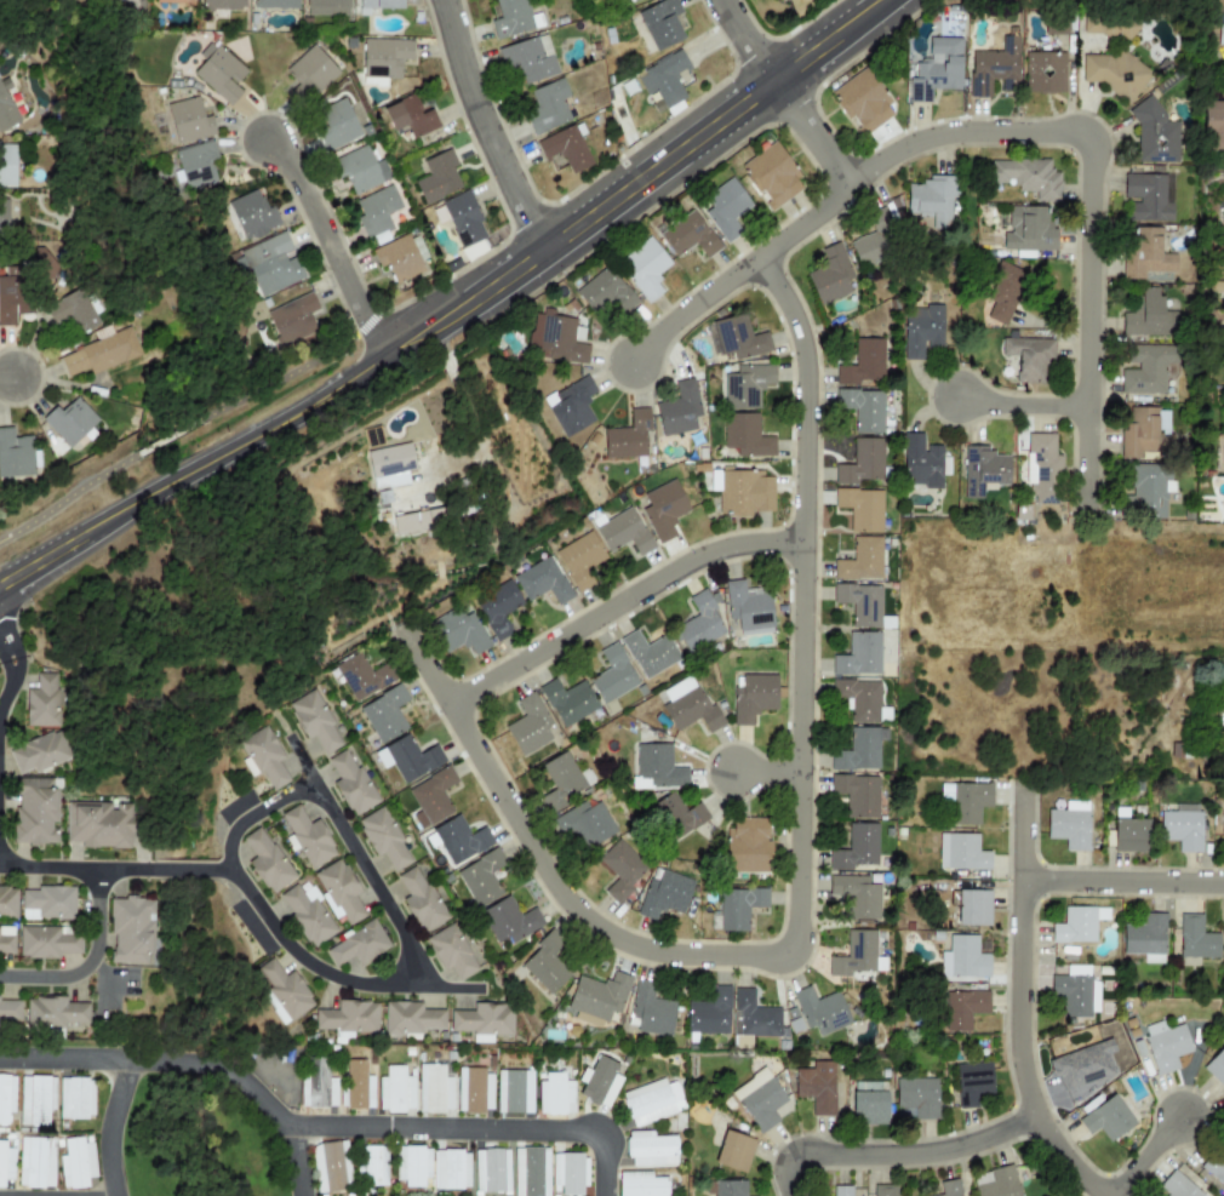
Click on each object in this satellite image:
building: (779, 0)
building: (175, 1)
building: (623, 1)
building: (274, 4)
building: (219, 5)
building: (377, 5)
building: (326, 7)
building: (510, 18)
building: (660, 24)
building: (1109, 25)
building: (1220, 34)
building: (384, 57)
building: (528, 59)
building: (994, 68)
building: (936, 69)
building: (310, 71)
building: (1111, 71)
building: (218, 73)
building: (1043, 73)
building: (663, 79)
road: (785, 91)
building: (862, 102)
building: (547, 107)
building: (6, 111)
building: (408, 118)
building: (188, 120)
building: (336, 124)
building: (1213, 125)
road: (487, 127)
building: (1154, 135)
building: (564, 149)
building: (7, 165)
building: (195, 165)
building: (359, 170)
building: (771, 176)
building: (437, 177)
building: (1026, 177)
road: (1091, 191)
building: (1145, 198)
building: (933, 201)
building: (725, 208)
building: (376, 212)
building: (252, 214)
building: (2, 218)
building: (463, 219)
building: (1028, 230)
building: (688, 235)
building: (873, 242)
road: (331, 246)
building: (1148, 256)
building: (397, 258)
building: (270, 264)
building: (644, 268)
road: (740, 271)
building: (831, 275)
building: (604, 292)
building: (1002, 292)
building: (11, 294)
building: (73, 311)
road: (454, 311)
building: (1148, 315)
building: (294, 320)
building: (921, 331)
building: (734, 338)
building: (555, 339)
building: (101, 351)
building: (1029, 359)
building: (863, 364)
road: (294, 370)
building: (1145, 370)
road: (5, 373)
building: (747, 385)
road: (1022, 402)
building: (570, 406)
building: (679, 408)
building: (863, 408)
road: (474, 414)
building: (69, 422)
building: (745, 435)
building: (1143, 435)
road: (170, 436)
building: (628, 436)
park: (170, 441)
building: (15, 454)
building: (862, 462)
building: (921, 462)
building: (389, 465)
building: (1041, 468)
building: (983, 471)
building: (1148, 491)
building: (742, 492)
road: (68, 496)
building: (860, 508)
building: (663, 509)
building: (411, 522)
building: (623, 532)
building: (579, 559)
building: (859, 560)
building: (542, 582)
road: (619, 601)
building: (860, 602)
building: (497, 608)
building: (748, 610)
building: (699, 624)
building: (457, 631)
road: (6, 648)
building: (650, 653)
building: (858, 656)
building: (612, 675)
building: (361, 676)
road: (10, 685)
building: (1222, 691)
building: (753, 697)
building: (858, 699)
building: (41, 702)
building: (567, 702)
building: (687, 705)
building: (384, 714)
building: (314, 721)
building: (528, 726)
building: (857, 751)
building: (39, 752)
building: (264, 756)
building: (408, 759)
building: (657, 767)
road: (767, 771)
building: (562, 780)
building: (351, 783)
building: (857, 795)
building: (430, 797)
building: (963, 802)
building: (35, 811)
road: (253, 814)
building: (676, 816)
building: (585, 823)
building: (1222, 824)
building: (98, 825)
building: (1069, 825)
building: (1182, 826)
building: (1129, 835)
building: (307, 837)
building: (383, 837)
building: (459, 840)
building: (747, 846)
building: (857, 849)
building: (961, 852)
road: (359, 858)
building: (267, 860)
building: (622, 869)
building: (480, 877)
road: (797, 881)
road: (1125, 886)
building: (338, 892)
building: (664, 894)
road: (251, 895)
building: (854, 897)
building: (419, 899)
building: (7, 902)
building: (47, 903)
building: (738, 908)
building: (973, 908)
building: (308, 915)
building: (508, 921)
building: (1074, 926)
building: (132, 931)
building: (1145, 938)
building: (1195, 938)
building: (6, 940)
building: (47, 942)
building: (358, 945)
building: (453, 951)
building: (856, 955)
building: (963, 957)
road: (90, 962)
building: (547, 966)
road: (114, 978)
road: (107, 980)
building: (1075, 995)
building: (596, 998)
road: (1023, 1005)
building: (962, 1008)
building: (650, 1011)
building: (10, 1012)
building: (709, 1012)
building: (816, 1012)
building: (56, 1013)
building: (753, 1017)
building: (347, 1019)
building: (410, 1019)
building: (484, 1020)
building: (1165, 1046)
building: (1216, 1066)
building: (599, 1082)
building: (972, 1083)
building: (316, 1085)
building: (817, 1086)
building: (433, 1089)
building: (395, 1091)
building: (474, 1091)
building: (513, 1091)
building: (555, 1094)
building: (6, 1098)
building: (75, 1098)
building: (915, 1098)
building: (759, 1099)
building: (35, 1100)
building: (651, 1101)
building: (869, 1103)
building: (1105, 1118)
road: (110, 1126)
road: (324, 1126)
road: (894, 1143)
building: (650, 1150)
building: (733, 1151)
road: (1148, 1158)
road: (296, 1161)
building: (36, 1162)
building: (5, 1163)
building: (75, 1163)
building: (411, 1164)
building: (371, 1166)
building: (330, 1167)
building: (1216, 1167)
building: (451, 1169)
building: (490, 1171)
building: (530, 1172)
building: (568, 1174)
building: (995, 1181)
building: (641, 1184)
building: (1178, 1186)
building: (726, 1188)
building: (949, 1188)
building: (883, 1190)
building: (841, 1191)

